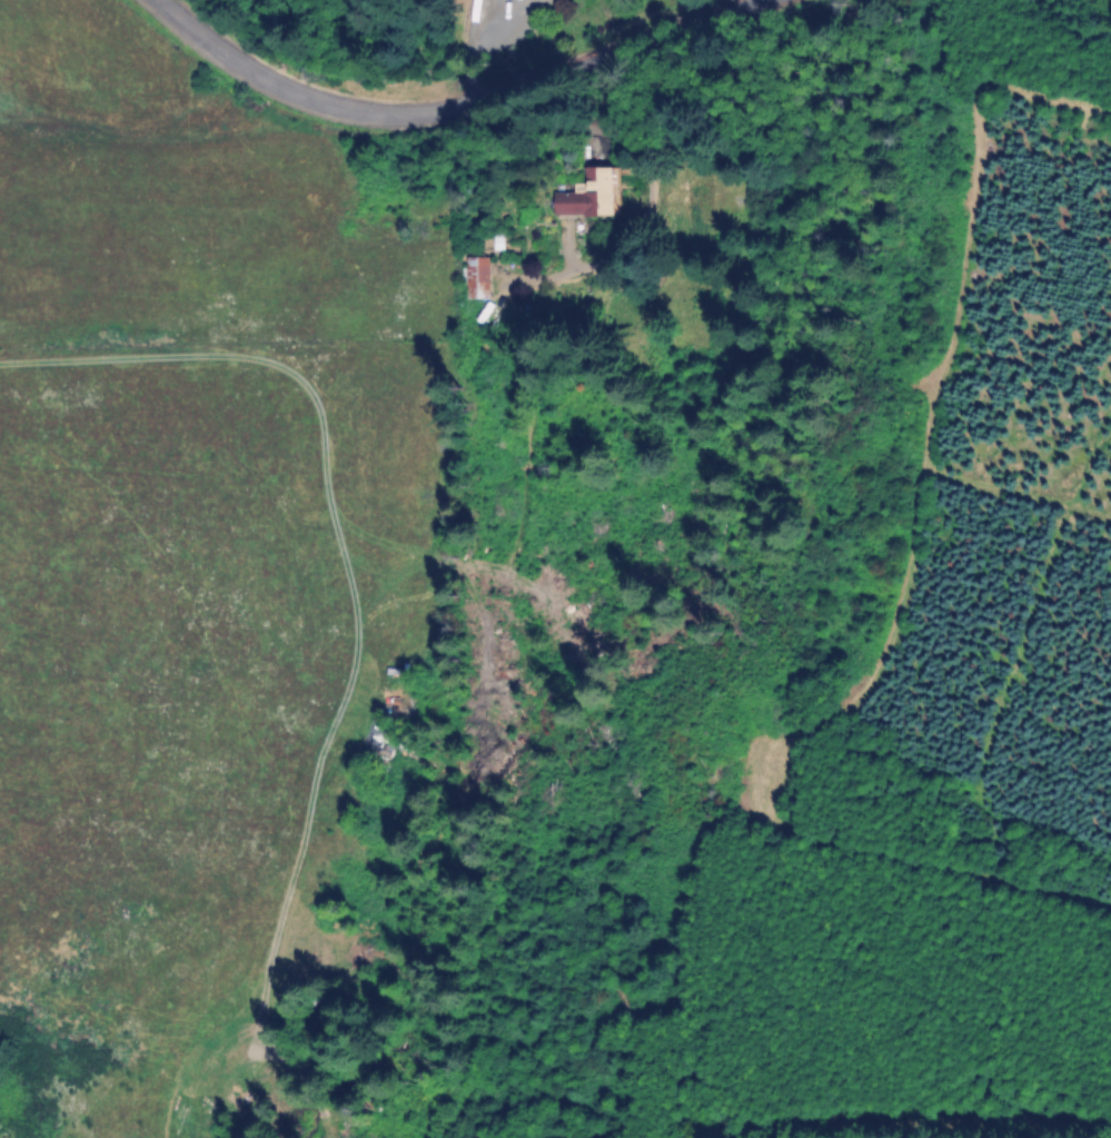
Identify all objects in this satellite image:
road: (446, 102)
building: (597, 198)
building: (479, 270)

